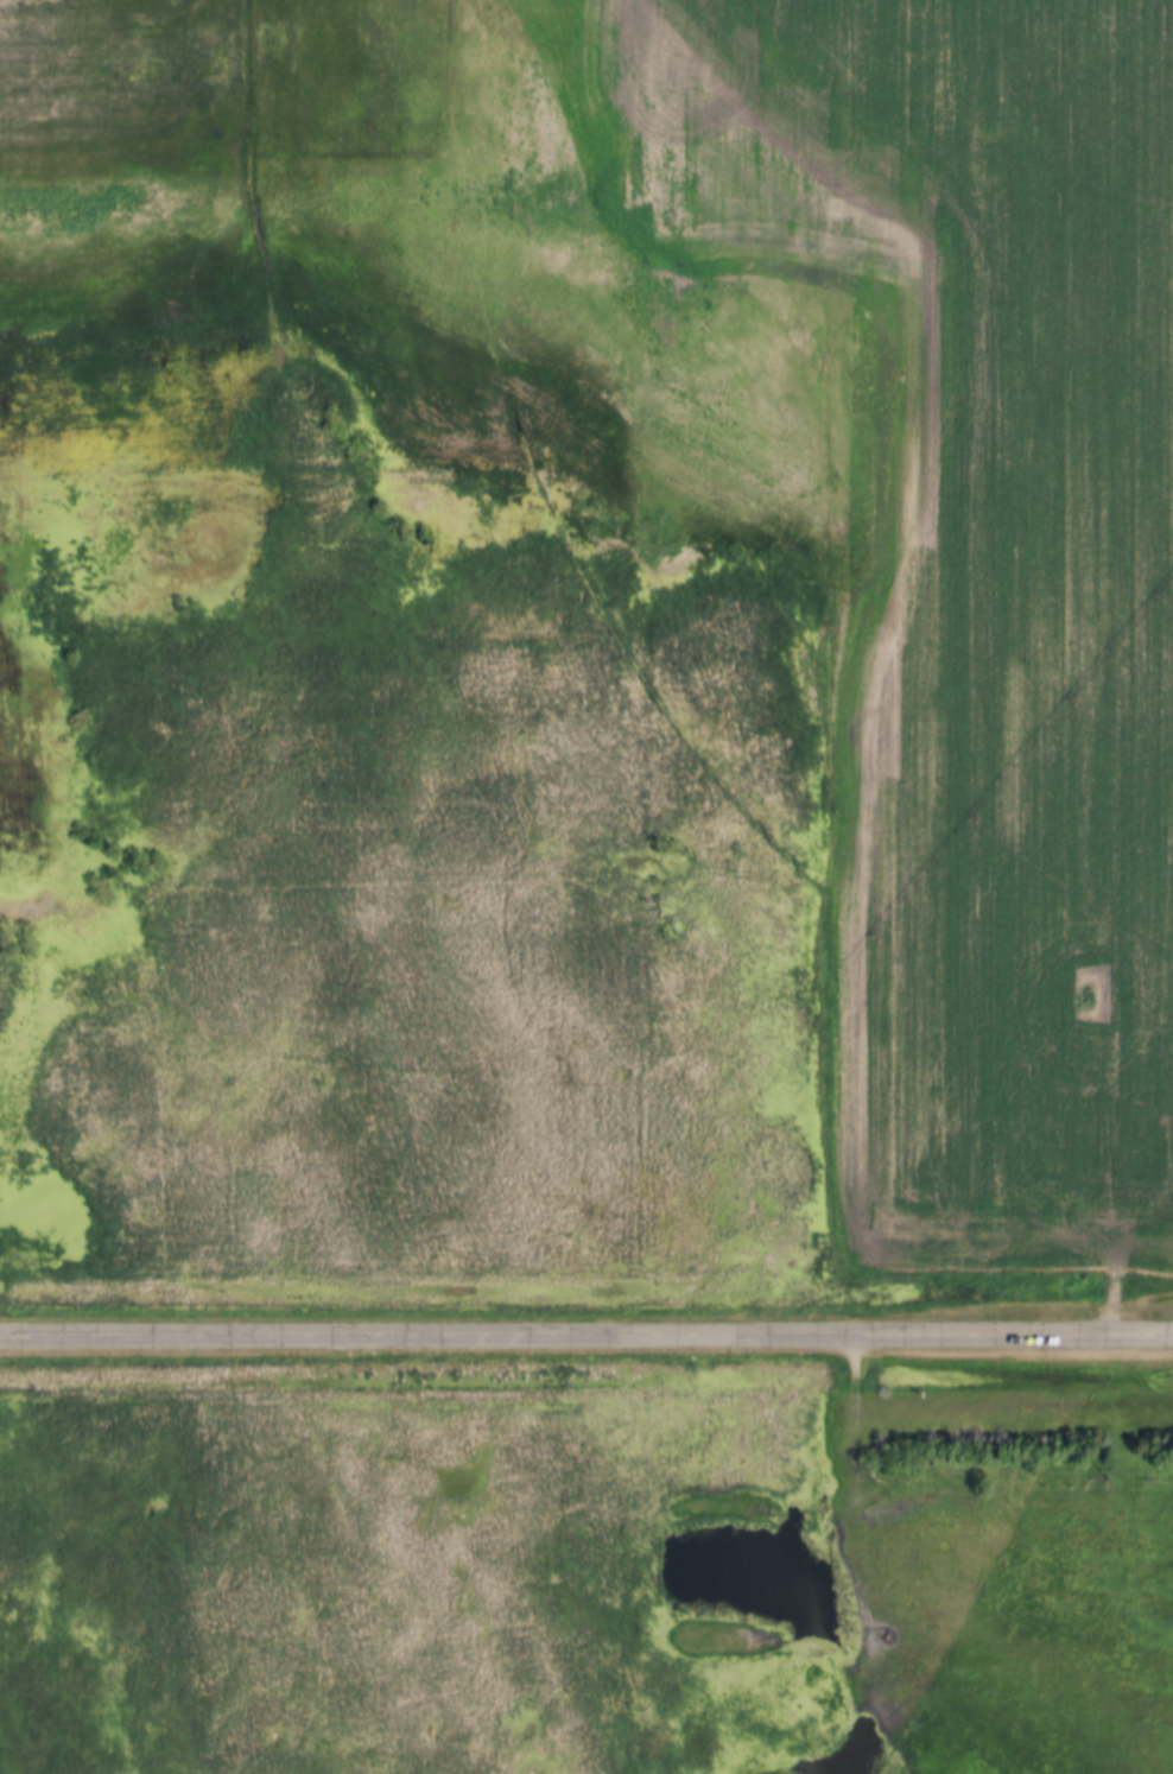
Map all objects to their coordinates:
road: (586, 1341)

